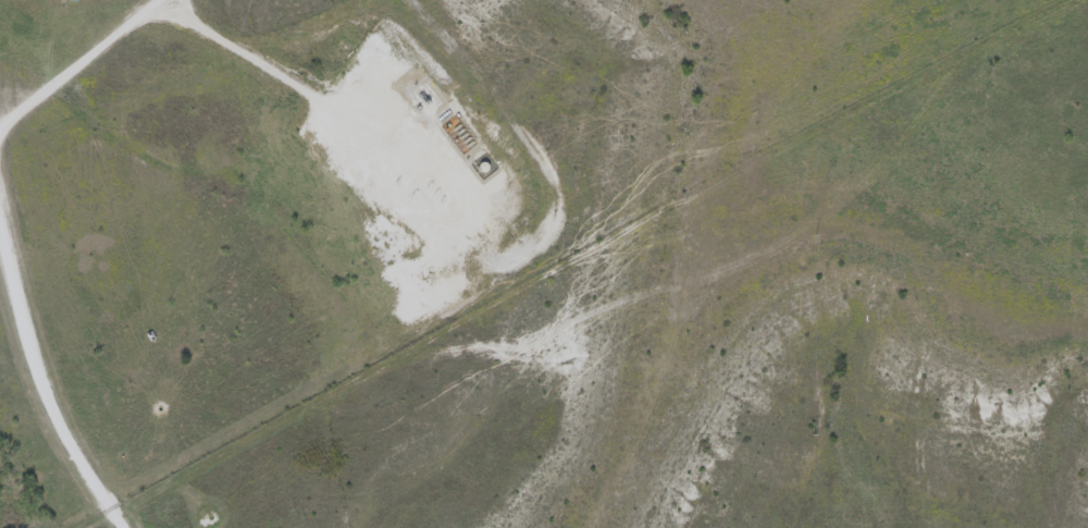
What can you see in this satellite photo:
road: (77, 59)
road: (322, 101)
road: (42, 398)

